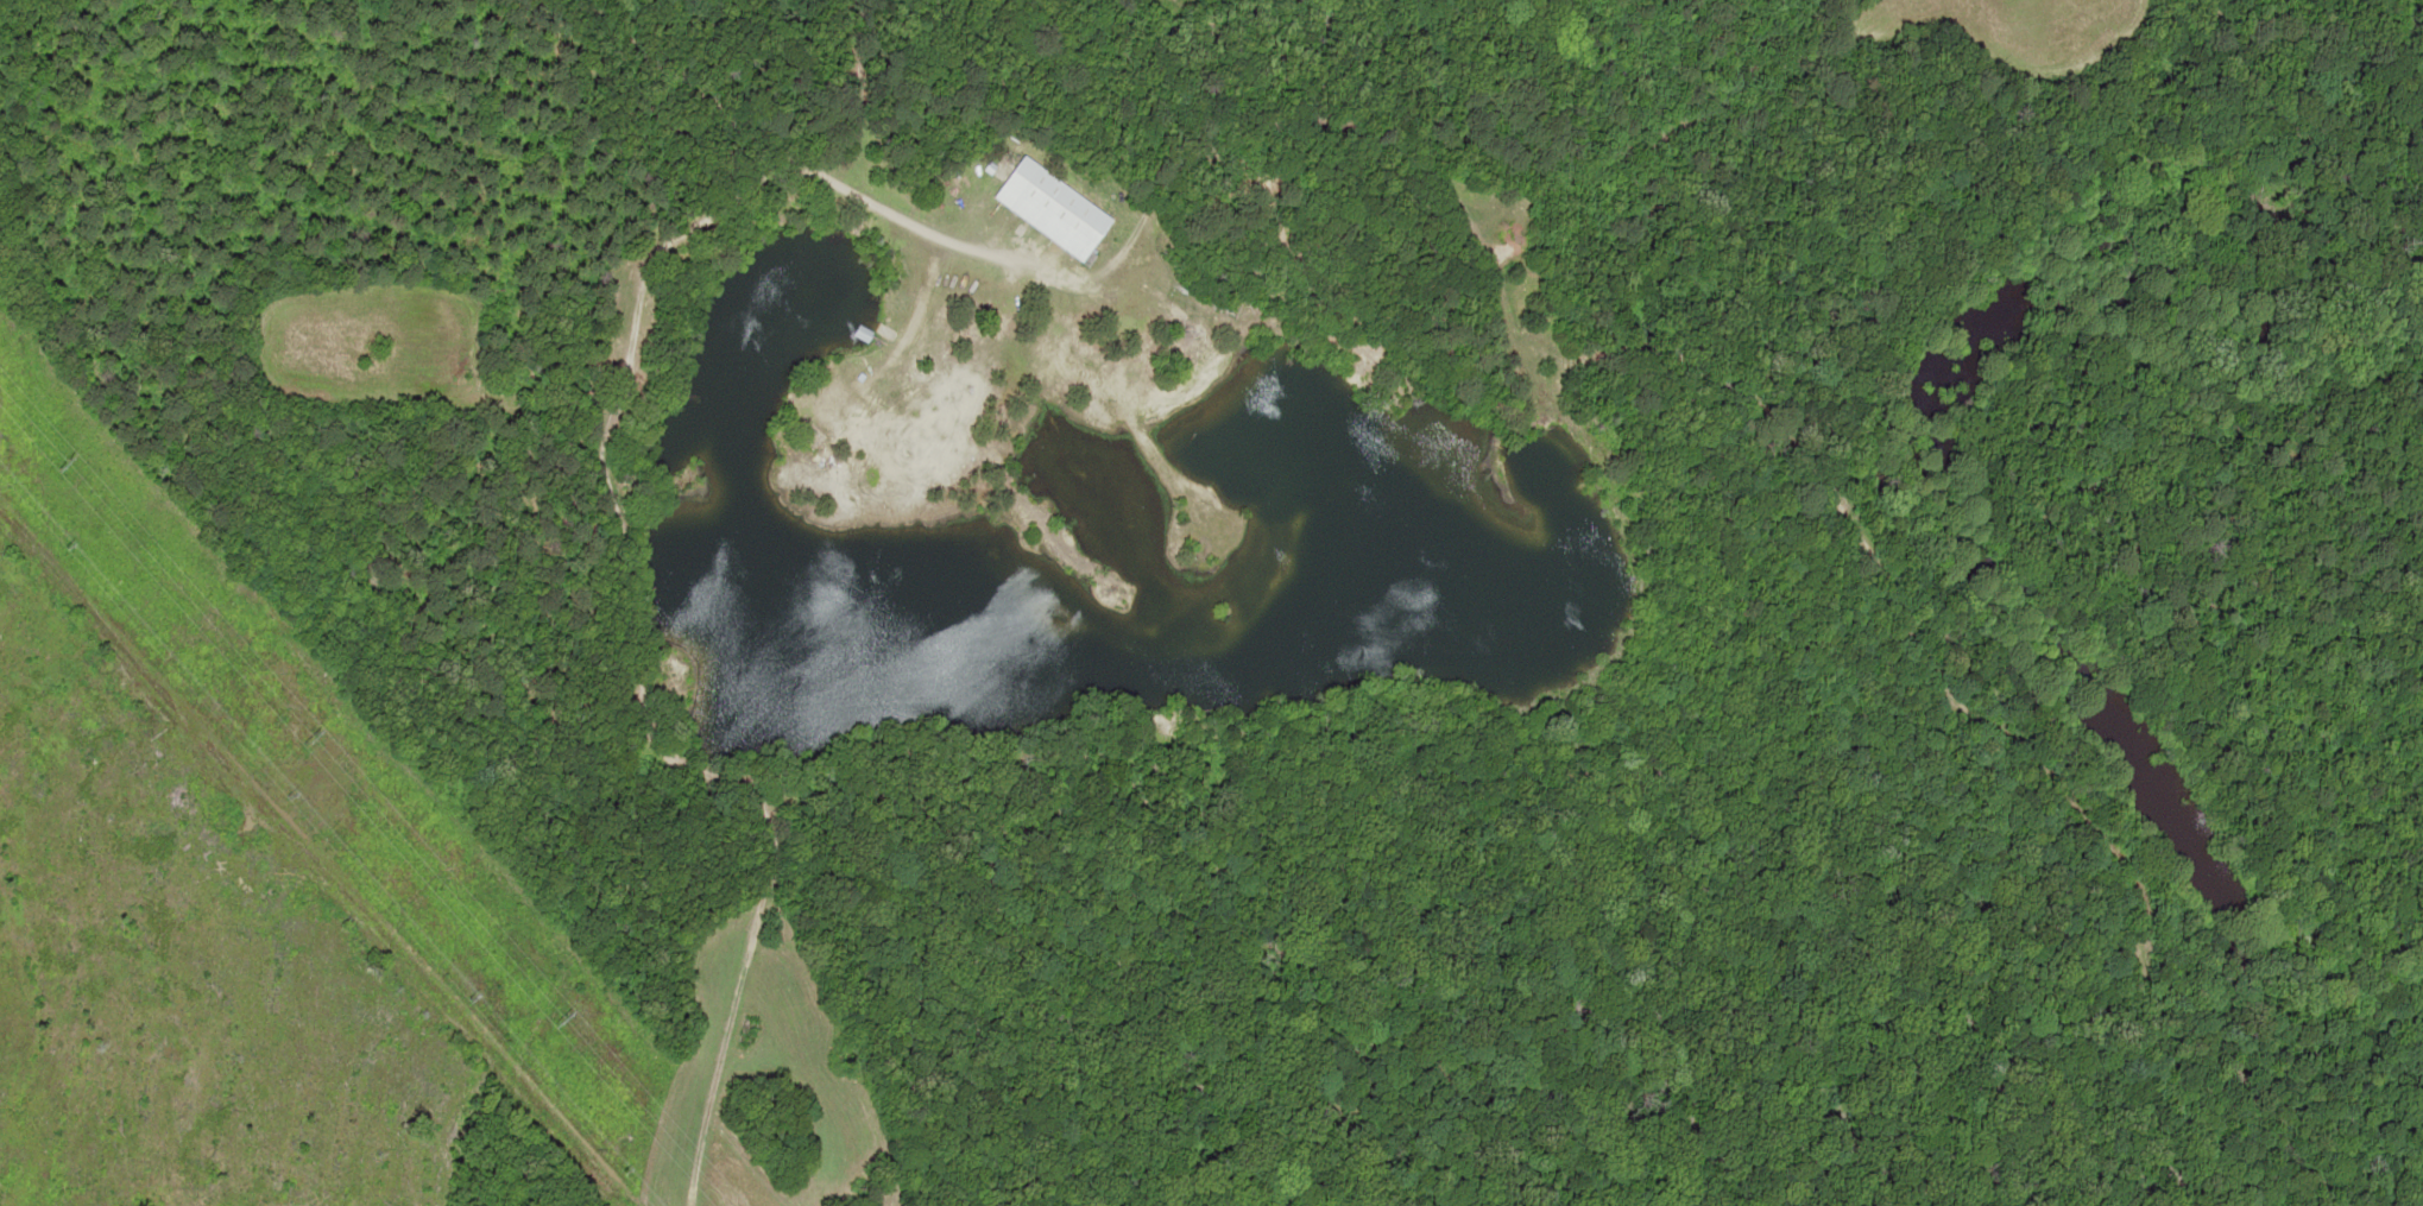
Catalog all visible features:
road: (801, 160)
building: (1054, 209)
power tower: (99, 601)

